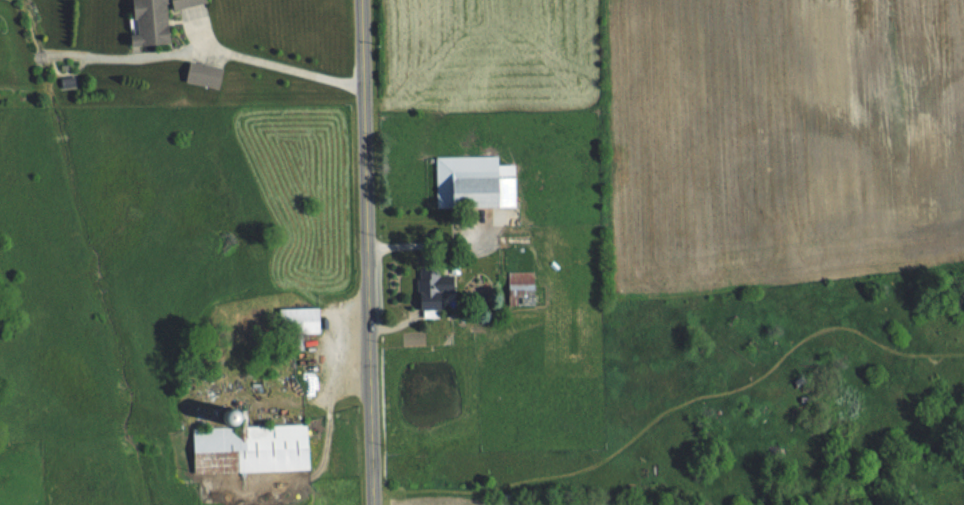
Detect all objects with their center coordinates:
building: (156, 19)
road: (272, 60)
building: (205, 73)
building: (475, 181)
road: (429, 242)
road: (365, 252)
building: (433, 283)
building: (522, 287)
building: (301, 319)
building: (262, 450)
building: (776, 453)

